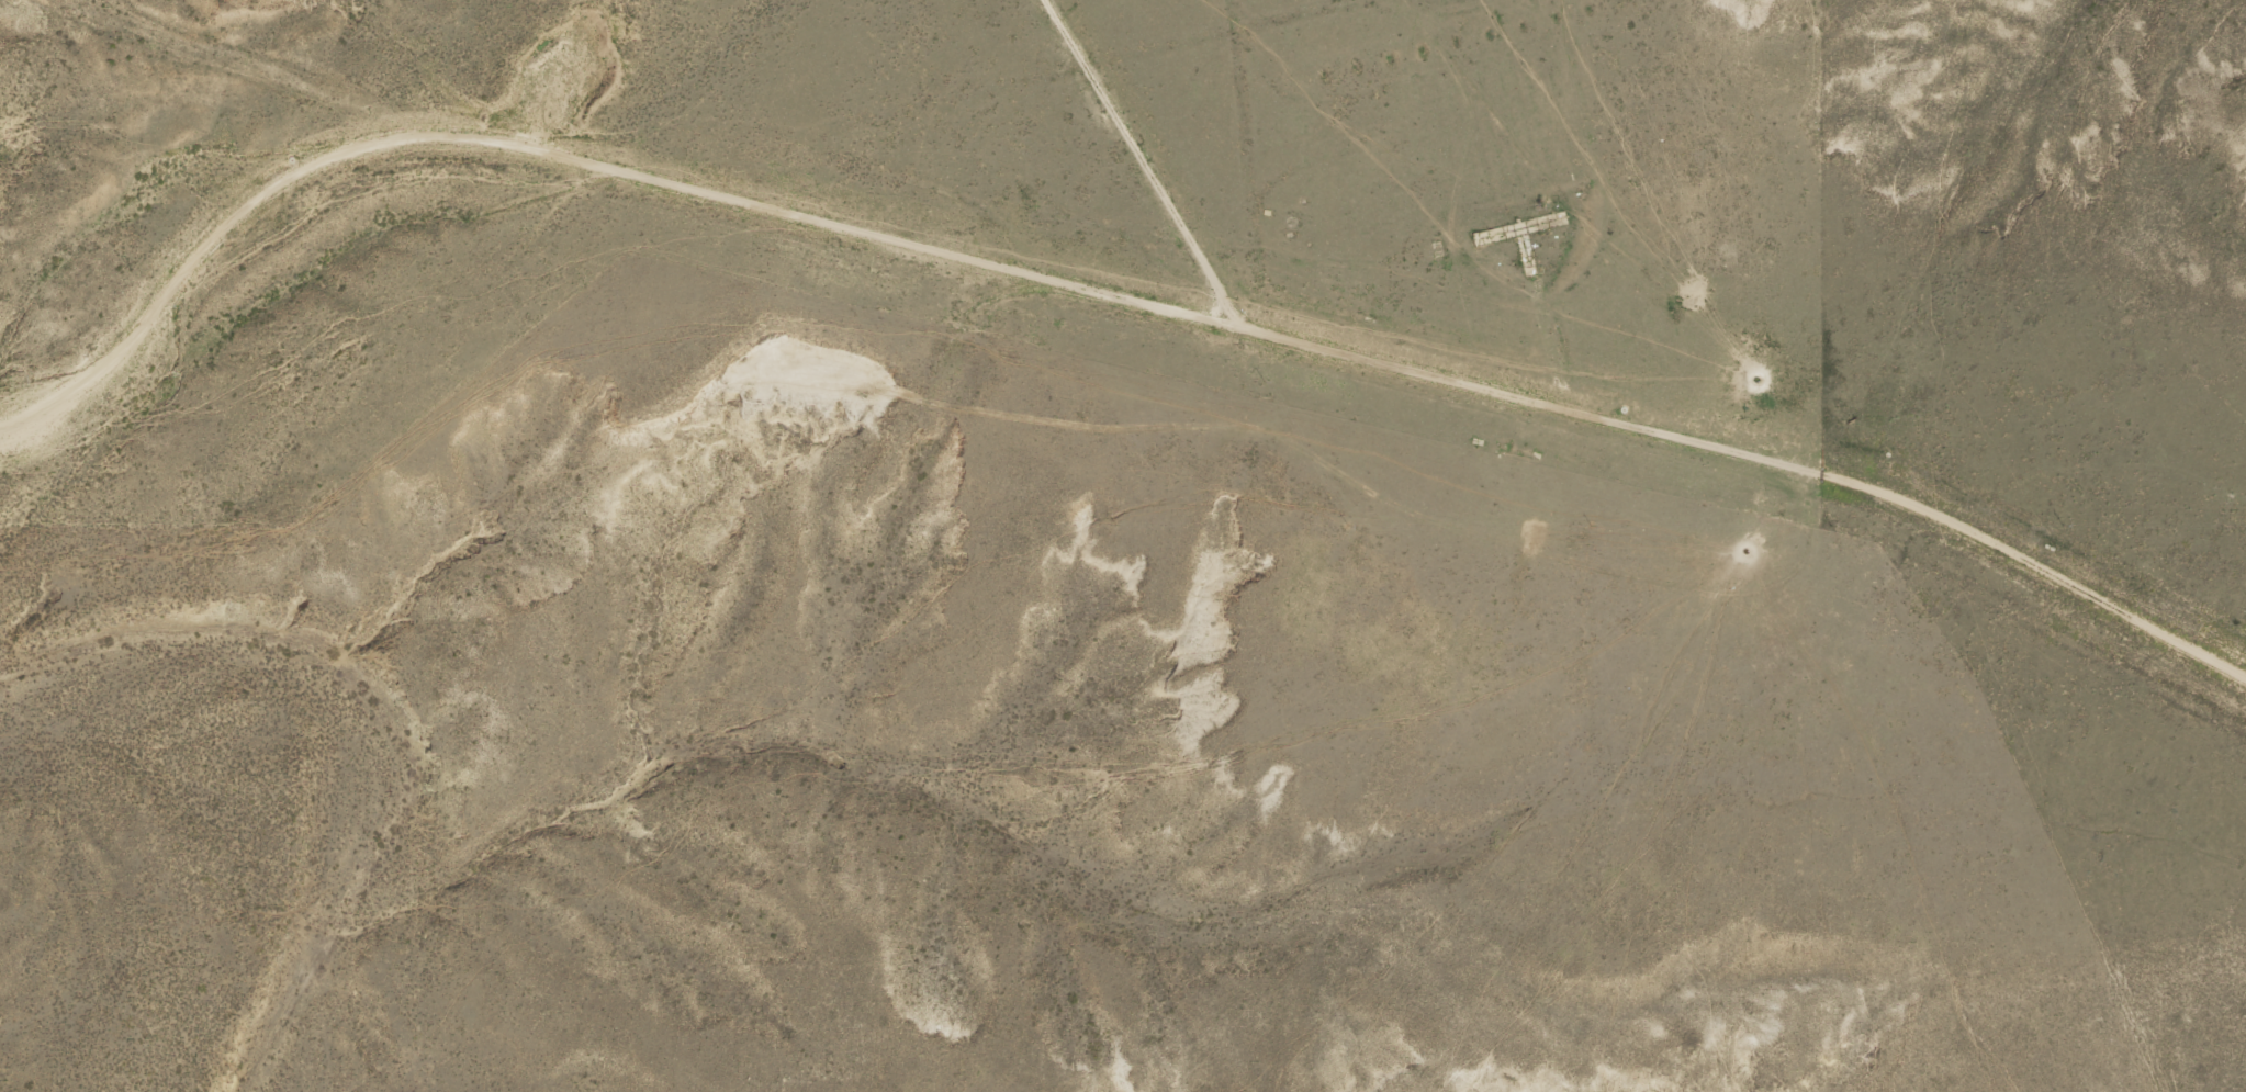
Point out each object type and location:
road: (1103, 295)

